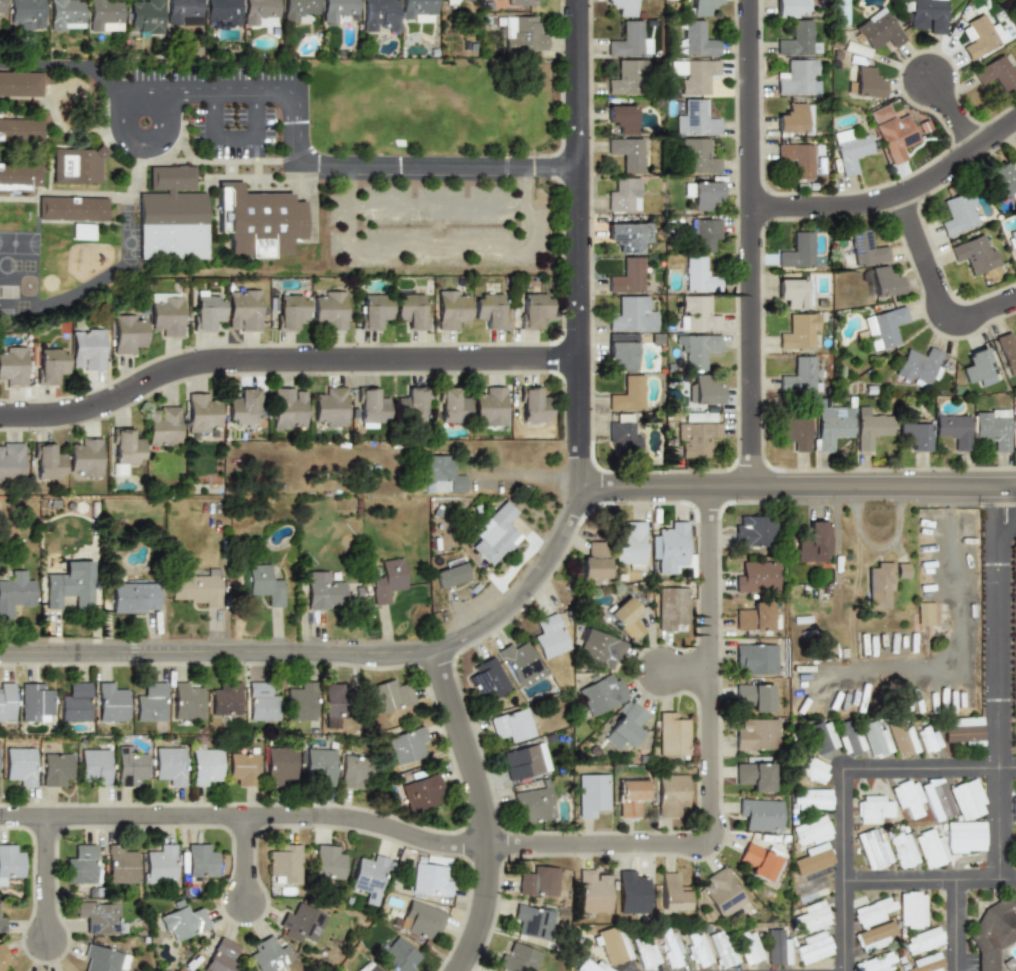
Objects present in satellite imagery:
building: (451, 0)
building: (519, 2)
building: (1, 5)
building: (622, 7)
building: (700, 7)
building: (792, 7)
building: (298, 9)
building: (336, 9)
building: (418, 9)
building: (258, 11)
building: (183, 12)
building: (26, 13)
building: (103, 13)
building: (223, 13)
building: (66, 15)
building: (380, 15)
building: (926, 15)
building: (145, 16)
building: (878, 29)
building: (525, 35)
building: (979, 36)
building: (697, 38)
building: (797, 39)
building: (629, 40)
road: (71, 64)
building: (696, 75)
building: (993, 75)
building: (626, 77)
building: (798, 77)
building: (866, 82)
building: (20, 83)
road: (144, 94)
road: (953, 116)
building: (621, 117)
building: (695, 118)
building: (795, 118)
building: (21, 129)
building: (893, 132)
road: (232, 138)
building: (852, 152)
building: (628, 153)
building: (1014, 155)
building: (700, 156)
building: (797, 157)
building: (77, 164)
road: (336, 164)
building: (19, 175)
building: (1003, 179)
building: (703, 194)
road: (894, 194)
building: (624, 195)
road: (437, 201)
building: (72, 207)
building: (960, 212)
building: (171, 215)
building: (258, 220)
building: (82, 231)
building: (704, 235)
building: (628, 236)
building: (1012, 238)
road: (751, 242)
road: (579, 243)
building: (866, 247)
building: (796, 250)
road: (434, 252)
building: (975, 253)
building: (695, 274)
building: (627, 276)
building: (884, 281)
road: (934, 287)
building: (794, 292)
building: (452, 307)
building: (330, 309)
building: (411, 309)
building: (490, 309)
building: (535, 309)
building: (206, 310)
building: (244, 310)
building: (290, 310)
building: (373, 310)
building: (166, 313)
building: (697, 314)
building: (633, 315)
building: (884, 327)
building: (128, 332)
building: (800, 332)
building: (87, 349)
building: (697, 349)
building: (1007, 352)
building: (622, 354)
road: (323, 359)
building: (12, 365)
building: (50, 365)
building: (919, 365)
building: (978, 367)
road: (313, 372)
building: (801, 374)
building: (703, 390)
building: (628, 394)
building: (413, 404)
building: (452, 405)
building: (244, 406)
building: (331, 406)
building: (371, 406)
building: (491, 406)
building: (535, 406)
building: (289, 408)
building: (202, 413)
road: (39, 415)
building: (831, 425)
building: (164, 426)
building: (871, 428)
building: (993, 428)
building: (954, 430)
building: (794, 432)
building: (914, 435)
building: (625, 436)
building: (696, 438)
building: (125, 448)
building: (86, 457)
building: (11, 461)
building: (48, 462)
building: (441, 474)
road: (529, 476)
road: (983, 484)
road: (765, 485)
building: (754, 530)
building: (496, 533)
building: (812, 542)
building: (630, 545)
road: (877, 547)
building: (670, 548)
building: (596, 560)
building: (902, 570)
building: (450, 575)
building: (758, 577)
building: (388, 580)
building: (265, 584)
building: (879, 585)
building: (197, 586)
building: (67, 589)
building: (323, 591)
building: (14, 594)
building: (133, 597)
building: (672, 607)
building: (926, 613)
building: (756, 617)
building: (625, 618)
road: (957, 632)
building: (549, 636)
road: (77, 639)
building: (599, 647)
road: (331, 654)
building: (756, 656)
building: (520, 663)
road: (686, 669)
building: (487, 679)
road: (999, 681)
building: (602, 694)
building: (390, 695)
building: (754, 696)
building: (186, 699)
building: (334, 699)
building: (6, 700)
building: (225, 700)
building: (73, 701)
building: (261, 701)
building: (301, 701)
building: (34, 702)
building: (110, 702)
building: (149, 702)
building: (512, 725)
building: (624, 725)
building: (964, 732)
building: (756, 734)
building: (672, 735)
building: (1015, 735)
building: (821, 737)
building: (901, 738)
building: (849, 739)
building: (874, 739)
building: (927, 739)
building: (406, 746)
building: (526, 760)
building: (169, 764)
building: (280, 764)
building: (320, 764)
building: (20, 765)
building: (206, 766)
building: (95, 767)
building: (129, 767)
building: (55, 768)
building: (243, 768)
road: (456, 768)
road: (931, 769)
building: (813, 770)
building: (355, 773)
building: (755, 775)
building: (420, 792)
building: (591, 793)
building: (672, 793)
building: (630, 796)
building: (907, 798)
building: (811, 799)
building: (936, 799)
building: (966, 799)
building: (534, 800)
building: (1013, 807)
road: (480, 809)
building: (873, 809)
building: (761, 814)
building: (811, 831)
building: (965, 836)
road: (526, 847)
building: (930, 849)
building: (873, 850)
building: (903, 850)
building: (812, 859)
building: (201, 860)
building: (10, 861)
road: (243, 861)
building: (286, 862)
building: (329, 862)
building: (761, 863)
building: (81, 864)
building: (120, 864)
building: (160, 864)
road: (847, 869)
building: (369, 877)
road: (932, 879)
road: (45, 880)
building: (539, 881)
building: (430, 882)
building: (812, 886)
building: (594, 890)
building: (632, 891)
building: (672, 892)
building: (722, 892)
building: (911, 910)
building: (872, 912)
building: (99, 916)
building: (811, 917)
building: (183, 920)
building: (419, 920)
building: (532, 921)
building: (2, 922)
building: (301, 923)
road: (958, 925)
building: (994, 931)
building: (874, 936)
building: (922, 941)
building: (613, 946)
building: (671, 947)
building: (749, 947)
building: (813, 947)
building: (777, 948)
building: (721, 949)
building: (697, 950)
building: (645, 953)
building: (269, 954)
building: (222, 956)
building: (398, 956)
building: (518, 958)
building: (102, 959)
building: (1001, 959)
building: (3, 960)
building: (876, 963)
building: (927, 963)
building: (591, 966)
building: (370, 967)

